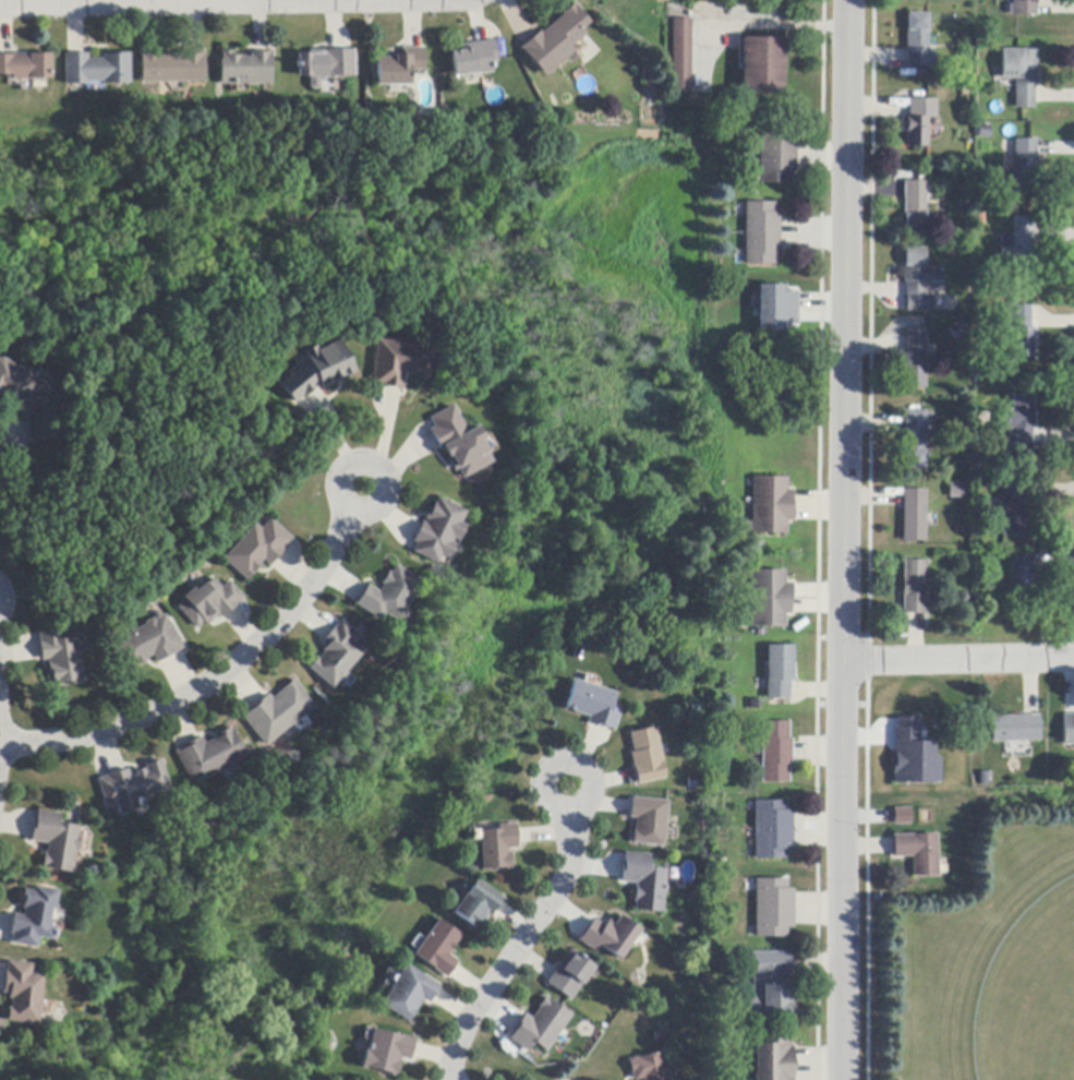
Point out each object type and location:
road: (177, 1)
building: (1025, 8)
road: (783, 22)
building: (555, 40)
building: (918, 41)
building: (681, 57)
building: (472, 59)
building: (324, 65)
building: (762, 65)
building: (25, 67)
building: (398, 67)
building: (172, 68)
building: (96, 69)
building: (244, 70)
building: (1021, 74)
building: (917, 128)
building: (776, 157)
building: (1025, 166)
building: (915, 206)
building: (761, 235)
building: (1022, 251)
building: (920, 281)
building: (775, 309)
building: (1021, 329)
building: (957, 331)
building: (915, 360)
building: (398, 362)
building: (318, 371)
building: (28, 400)
building: (1019, 423)
road: (2, 434)
building: (913, 440)
building: (458, 443)
building: (956, 491)
building: (771, 505)
building: (1011, 507)
building: (913, 515)
building: (437, 531)
road: (844, 539)
building: (257, 549)
building: (1021, 577)
building: (913, 587)
building: (388, 596)
building: (770, 599)
building: (209, 602)
park: (590, 607)
building: (147, 643)
building: (336, 655)
building: (61, 658)
road: (958, 661)
road: (219, 671)
building: (780, 671)
building: (592, 705)
building: (276, 713)
building: (1014, 729)
building: (1067, 730)
building: (776, 752)
building: (912, 754)
building: (209, 755)
building: (647, 756)
building: (982, 779)
building: (131, 787)
building: (920, 794)
building: (901, 814)
building: (649, 821)
building: (773, 830)
building: (55, 841)
building: (497, 848)
building: (917, 853)
building: (644, 881)
building: (478, 904)
building: (773, 908)
building: (34, 917)
building: (610, 936)
road: (530, 938)
building: (438, 949)
building: (570, 975)
building: (767, 987)
building: (23, 993)
building: (409, 994)
park: (1031, 997)
building: (541, 1027)
building: (387, 1053)
building: (773, 1058)
building: (647, 1068)

